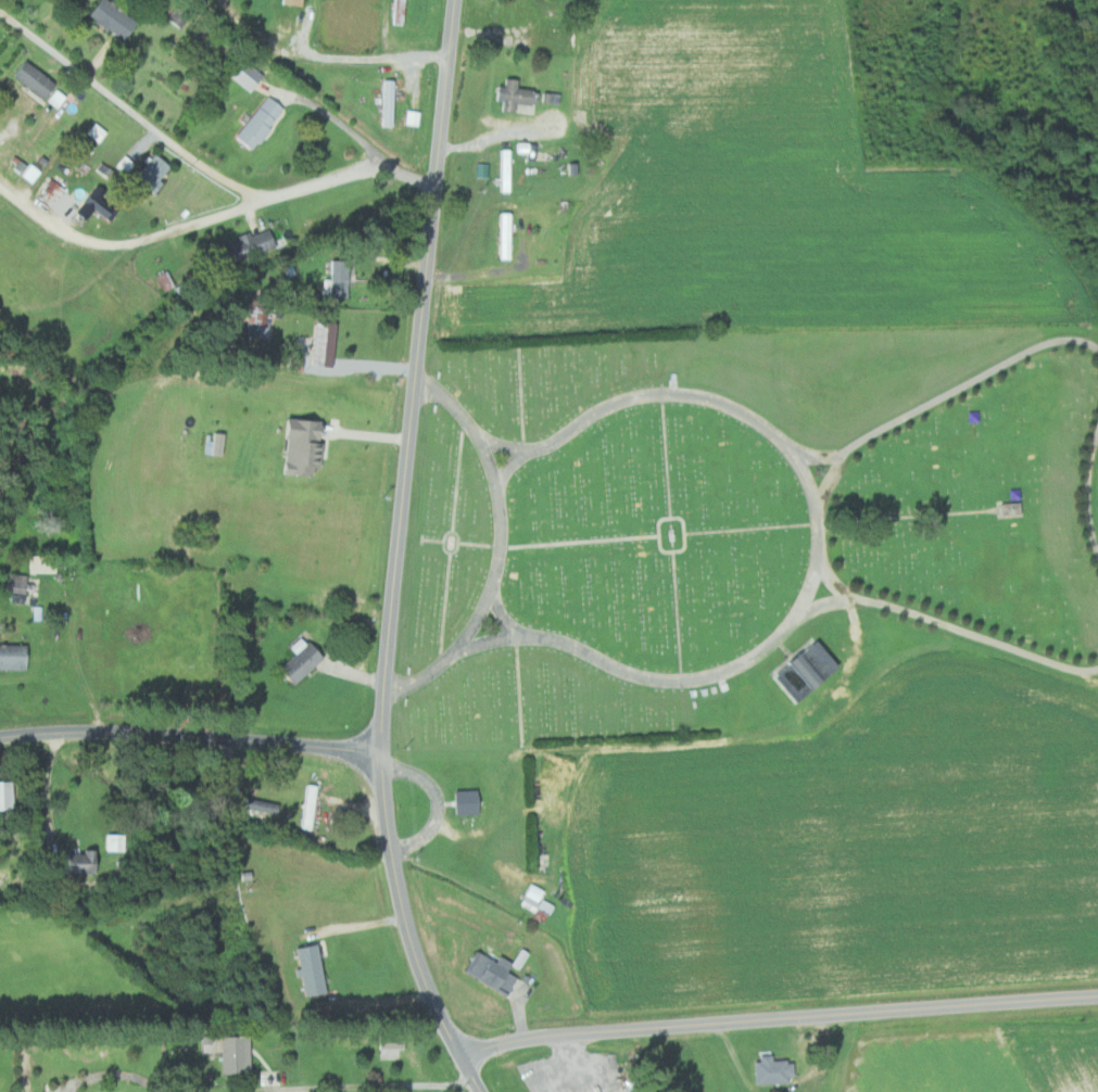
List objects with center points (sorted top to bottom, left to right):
building: (294, 2)
building: (116, 18)
road: (326, 55)
building: (251, 76)
building: (39, 78)
building: (517, 94)
building: (60, 98)
building: (390, 102)
road: (121, 110)
building: (263, 122)
road: (340, 122)
building: (98, 131)
building: (29, 168)
building: (157, 170)
building: (55, 192)
building: (98, 207)
road: (213, 220)
building: (252, 244)
building: (340, 278)
building: (258, 314)
building: (327, 343)
building: (306, 445)
park: (745, 525)
road: (397, 555)
building: (18, 583)
building: (15, 656)
building: (304, 660)
road: (189, 729)
building: (9, 795)
building: (470, 802)
building: (311, 807)
building: (116, 841)
building: (86, 862)
building: (531, 898)
building: (311, 969)
building: (494, 970)
road: (773, 1019)
building: (393, 1047)
building: (228, 1052)
building: (774, 1070)
road: (577, 1071)
road: (116, 1074)
road: (368, 1085)

